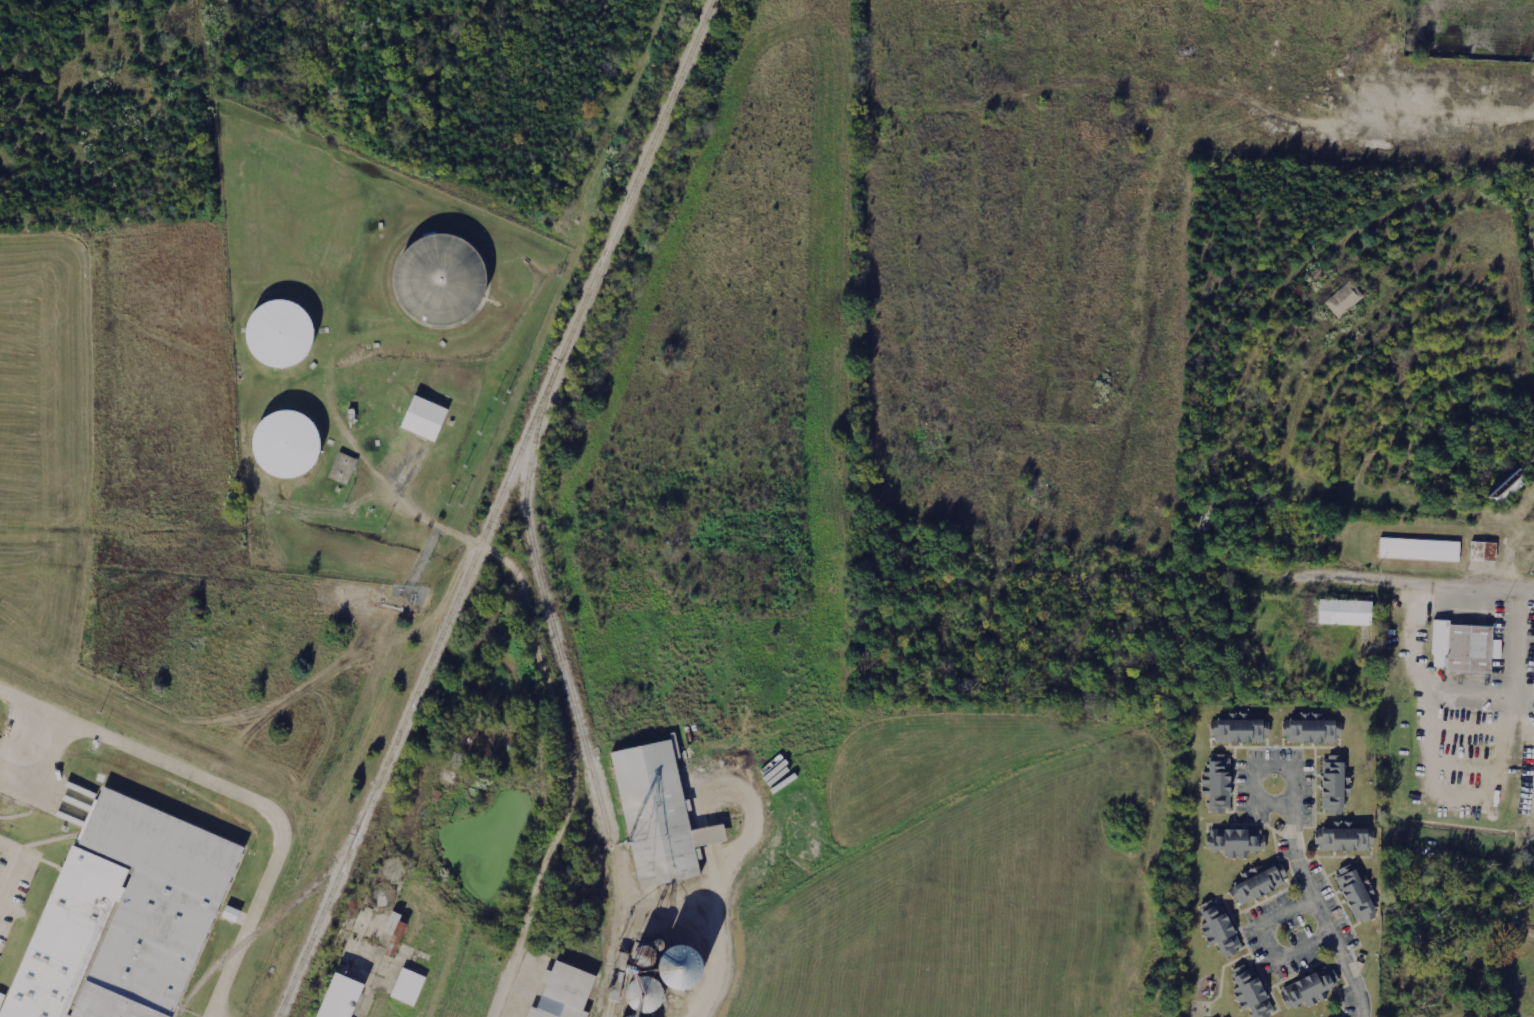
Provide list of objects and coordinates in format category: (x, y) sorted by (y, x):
building: (437, 279)
building: (1345, 300)
building: (279, 333)
building: (424, 419)
building: (287, 443)
building: (344, 468)
railway: (495, 508)
building: (1420, 550)
building: (1483, 552)
road: (1375, 576)
building: (1343, 612)
building: (1461, 649)
railway: (569, 694)
building: (1238, 732)
building: (1311, 732)
building: (675, 748)
road: (43, 760)
road: (1257, 765)
building: (1332, 786)
building: (1219, 787)
road: (236, 796)
building: (658, 817)
building: (1344, 840)
building: (1234, 842)
building: (1258, 885)
building: (1354, 895)
road: (1319, 910)
building: (231, 914)
railway: (275, 917)
building: (122, 918)
building: (1218, 929)
building: (394, 934)
building: (659, 981)
building: (409, 987)
building: (1307, 990)
building: (1252, 992)
building: (565, 993)
building: (338, 996)
building: (644, 1016)

